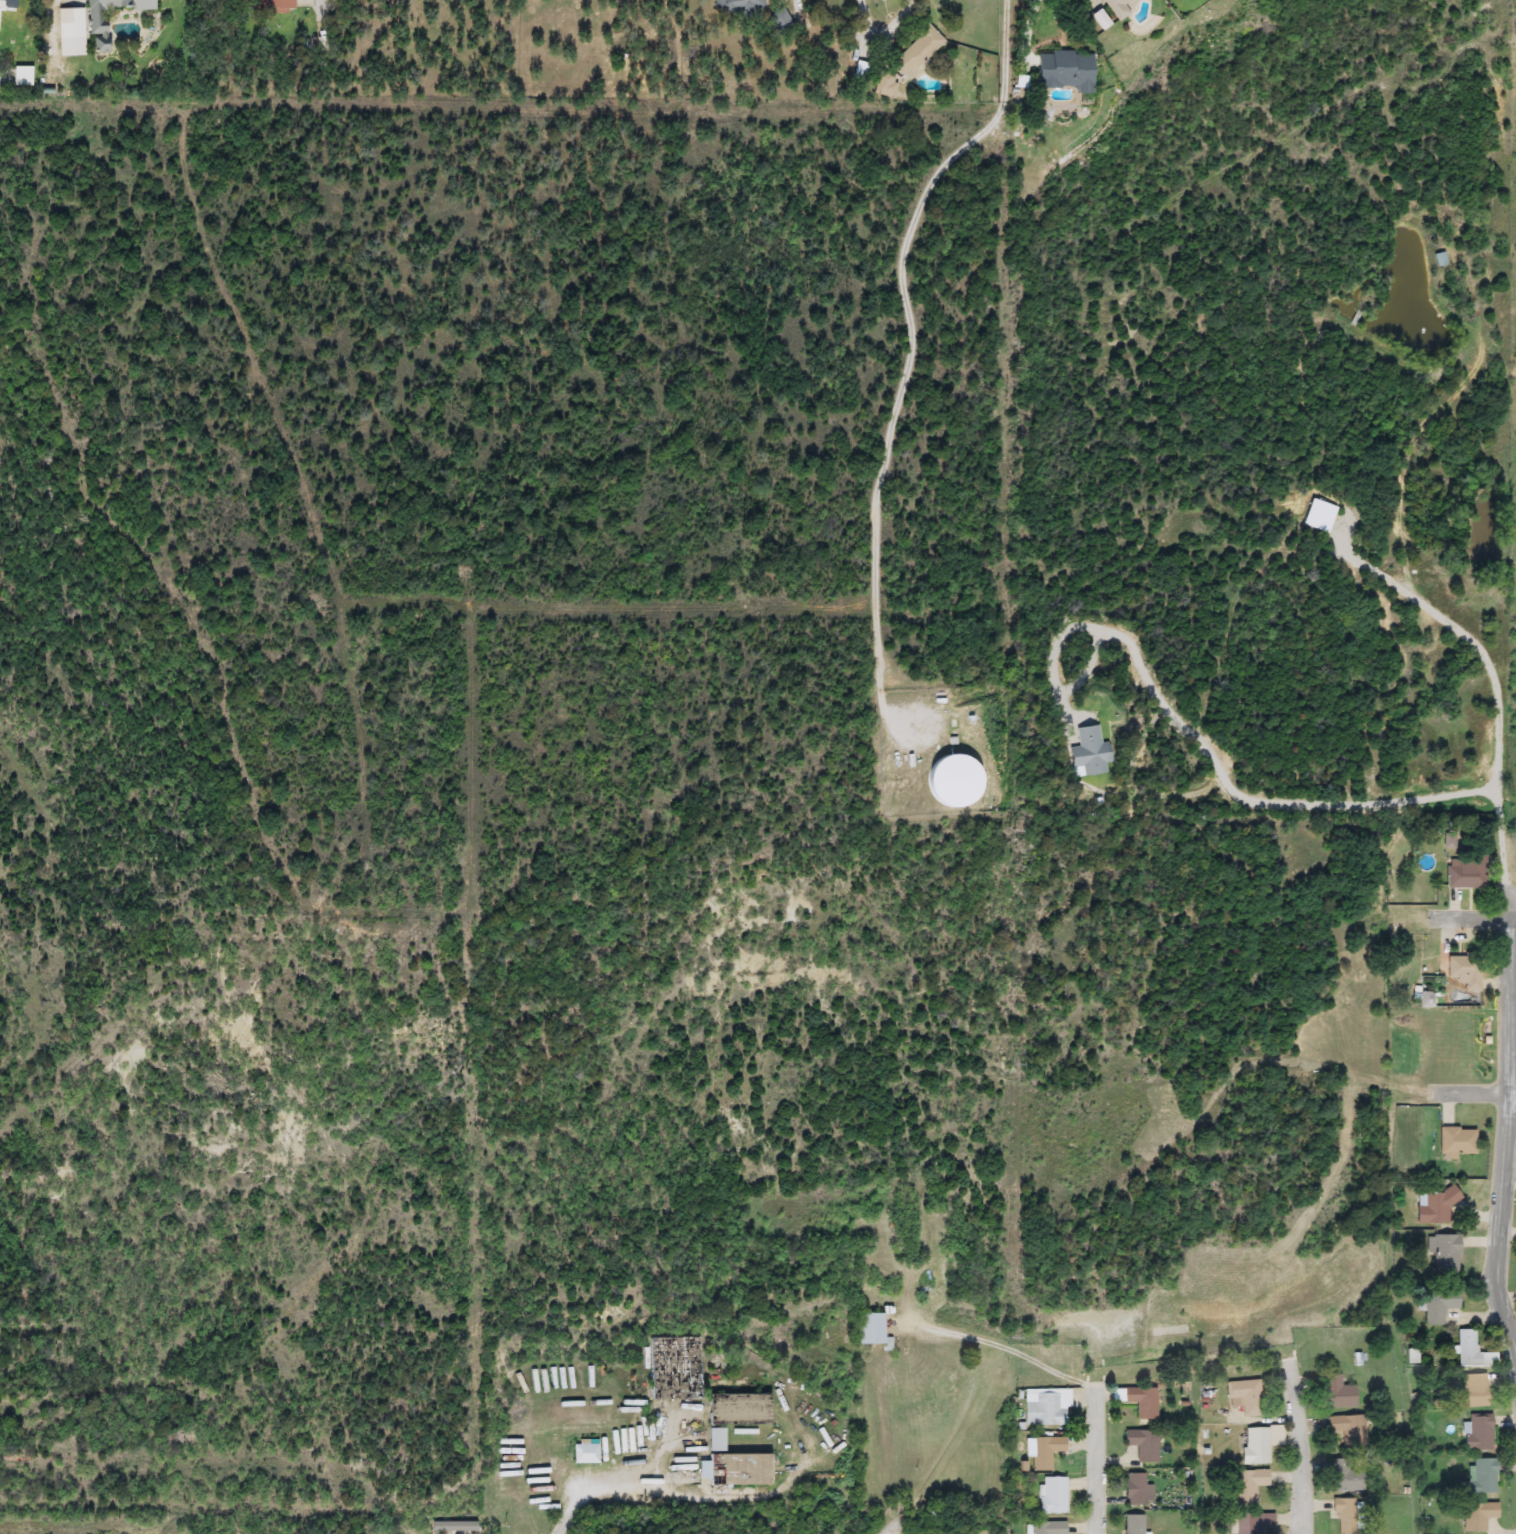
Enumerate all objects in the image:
building: (2, 0)
building: (273, 4)
building: (741, 5)
building: (1117, 7)
building: (779, 19)
building: (97, 31)
building: (70, 32)
road: (1030, 32)
road: (887, 39)
building: (916, 52)
building: (1063, 70)
road: (911, 348)
building: (1318, 516)
road: (1471, 640)
building: (1088, 752)
road: (1216, 770)
building: (1448, 840)
building: (1466, 871)
road: (1477, 919)
building: (1461, 970)
road: (1510, 1076)
road: (1475, 1095)
building: (1454, 1142)
building: (1433, 1206)
building: (1442, 1253)
building: (1438, 1305)
building: (867, 1327)
building: (1168, 1331)
power tower: (1002, 1336)
road: (1007, 1347)
building: (1468, 1348)
building: (1471, 1390)
building: (1336, 1393)
building: (1245, 1396)
building: (1141, 1401)
building: (1045, 1407)
building: (1346, 1431)
building: (1478, 1432)
building: (1142, 1444)
building: (1256, 1446)
road: (1298, 1446)
building: (1044, 1452)
building: (585, 1454)
road: (1098, 1459)
building: (731, 1464)
building: (1346, 1475)
building: (1481, 1477)
building: (1248, 1485)
road: (582, 1486)
building: (1137, 1490)
building: (1052, 1495)
building: (1344, 1514)
building: (1477, 1515)
building: (1252, 1522)
road: (893, 1524)
road: (88, 1525)
building: (1047, 1528)

